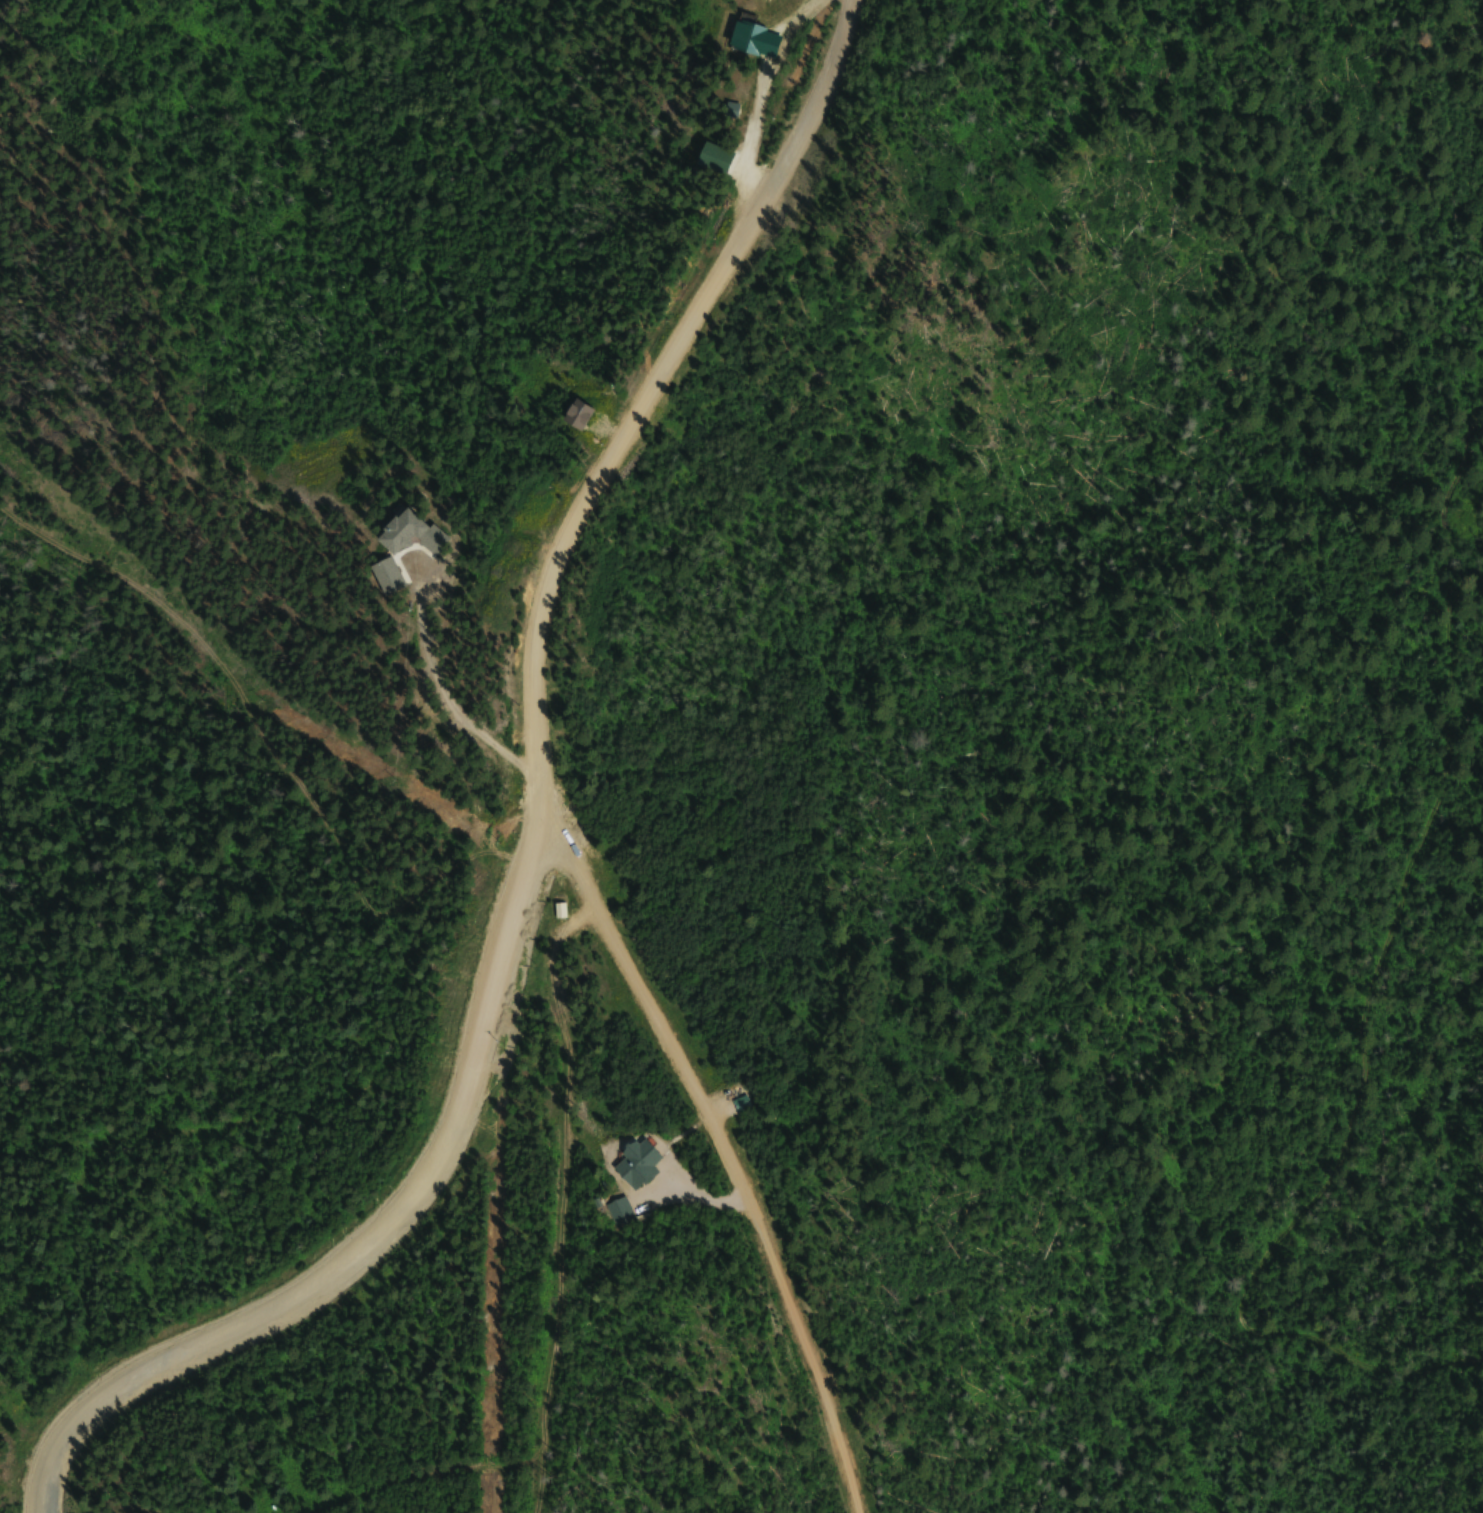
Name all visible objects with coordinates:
building: (754, 41)
road: (761, 89)
building: (731, 111)
road: (443, 687)
road: (538, 750)
building: (560, 910)
building: (637, 1165)
building: (619, 1212)
road: (373, 1240)

